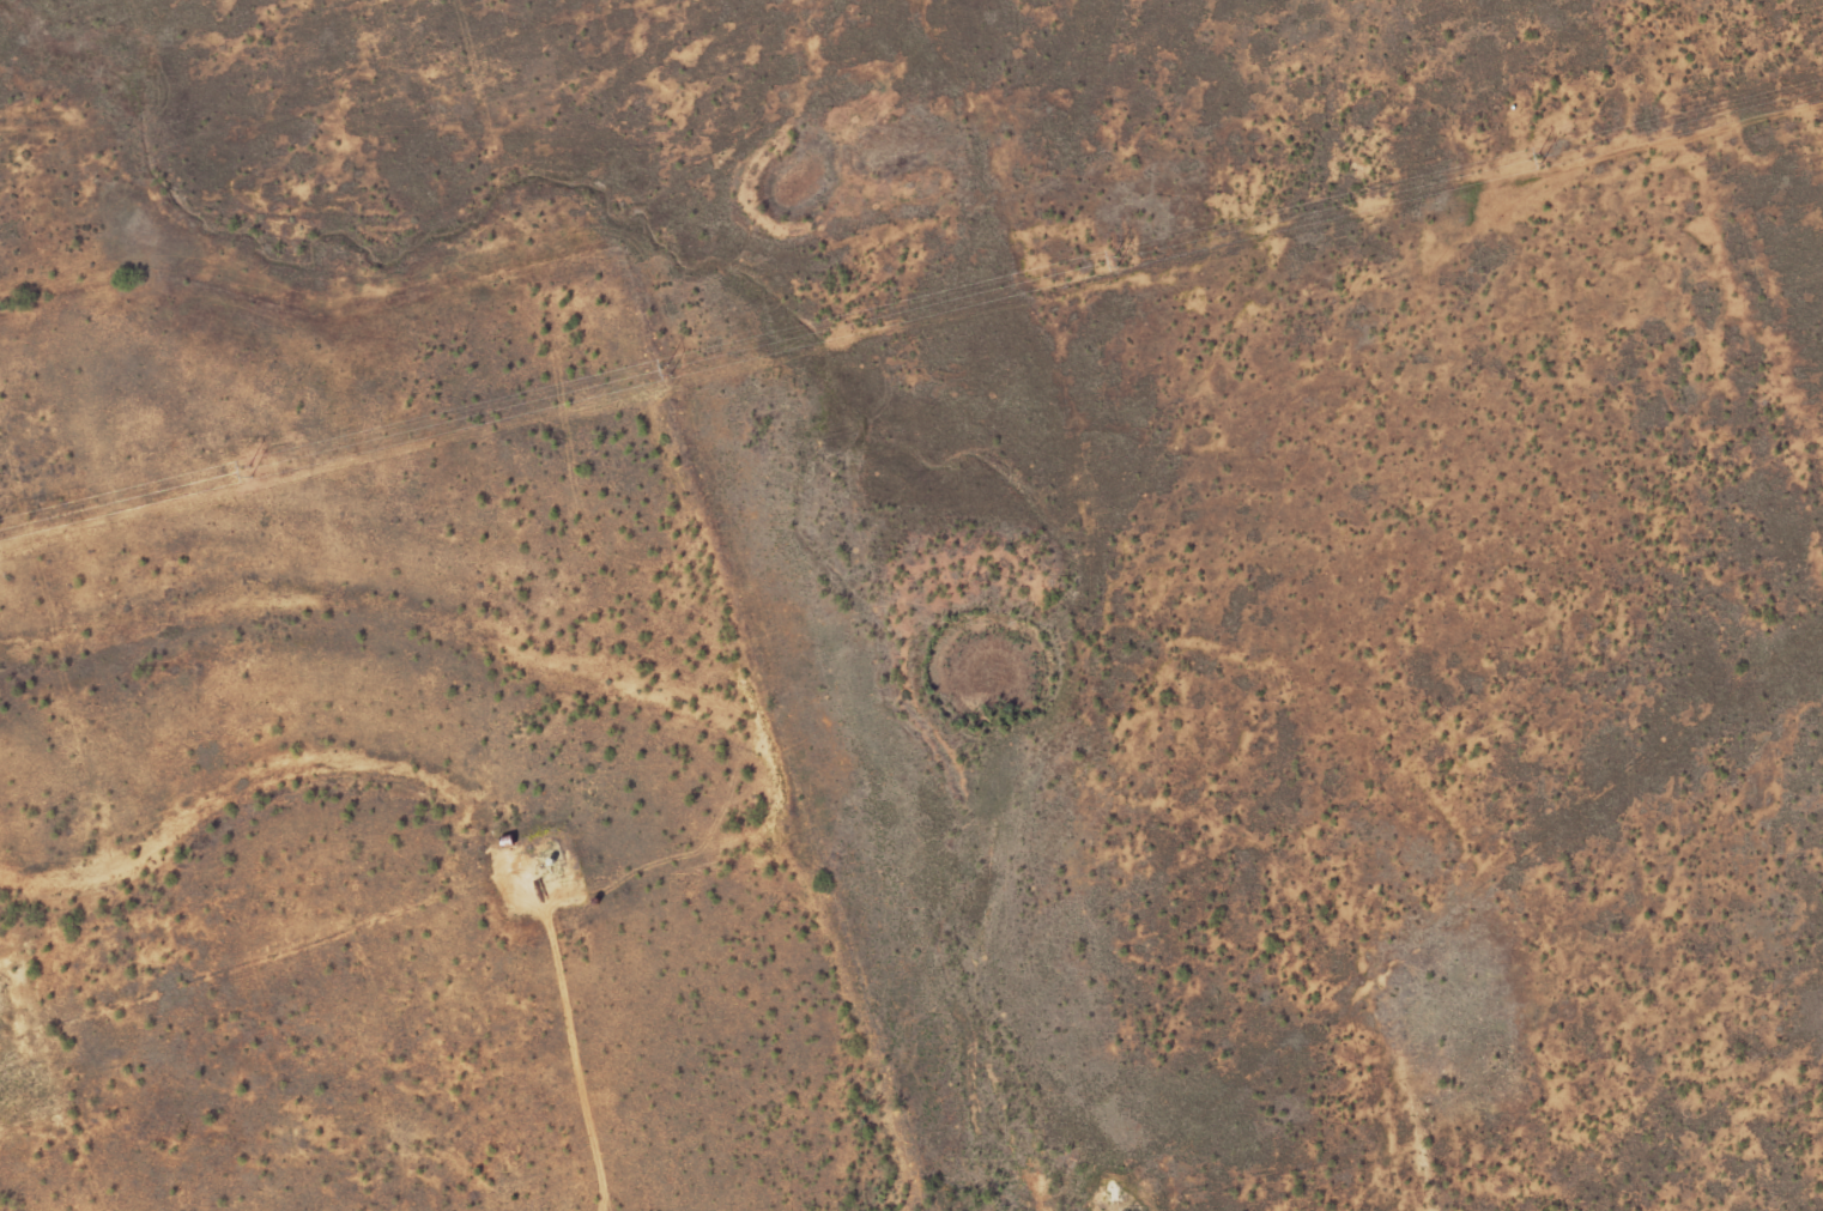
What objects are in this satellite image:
power tower: (1542, 157)
power tower: (1085, 267)
power tower: (662, 371)
power tower: (243, 472)

